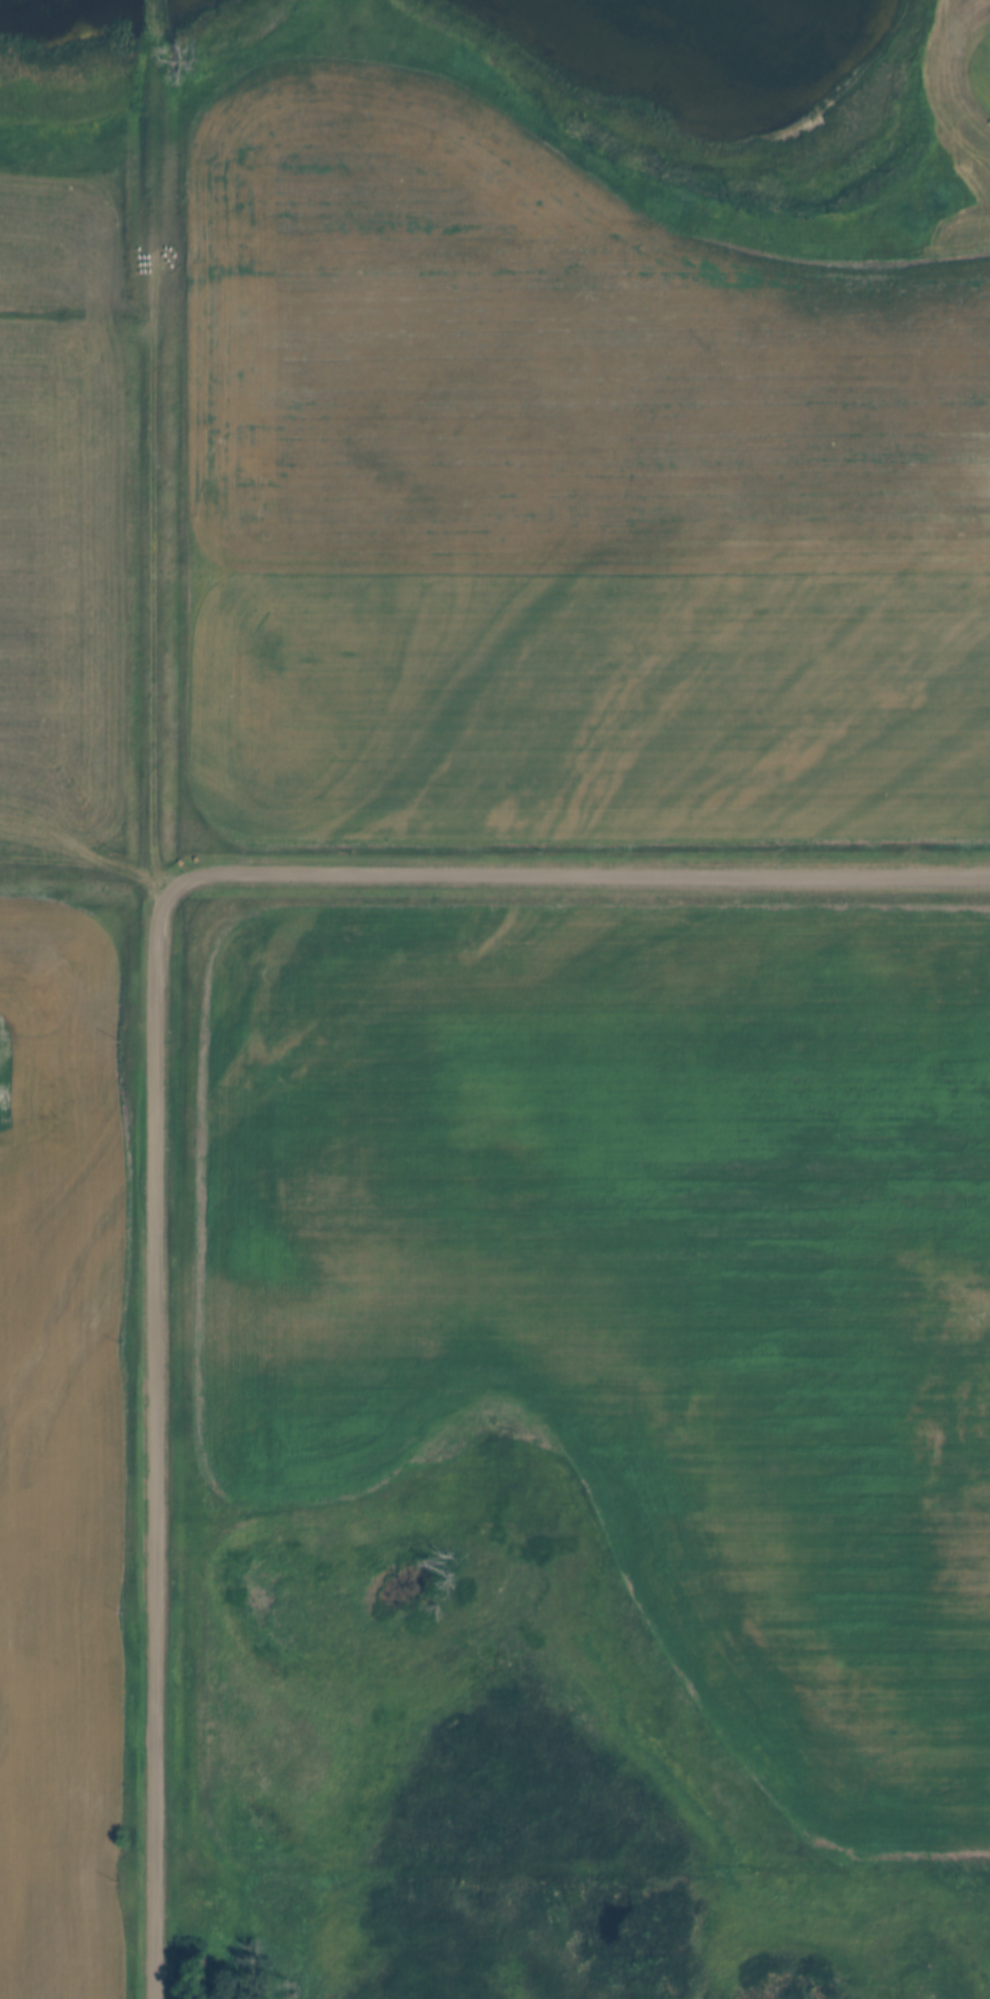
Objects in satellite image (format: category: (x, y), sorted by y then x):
crop: (593, 693)
road: (86, 866)
road: (575, 875)
road: (150, 997)

